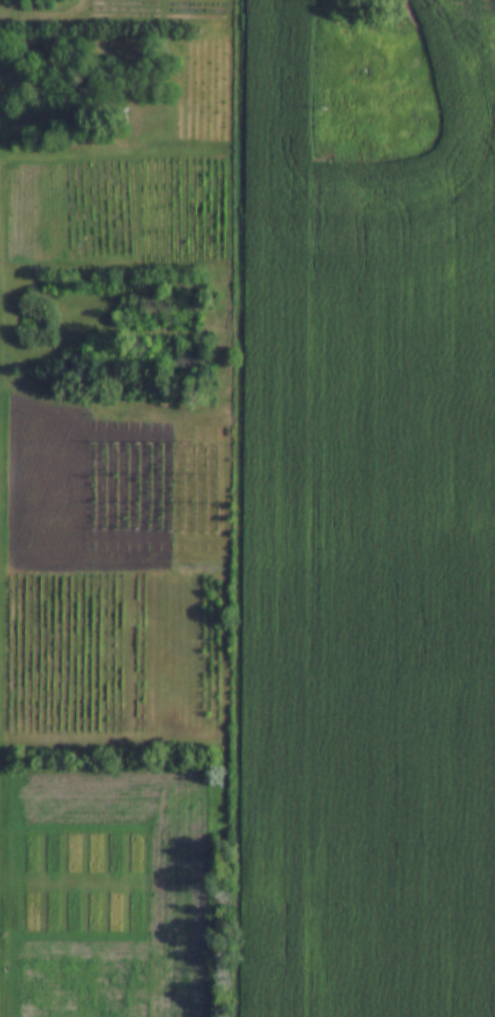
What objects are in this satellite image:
road: (229, 494)

